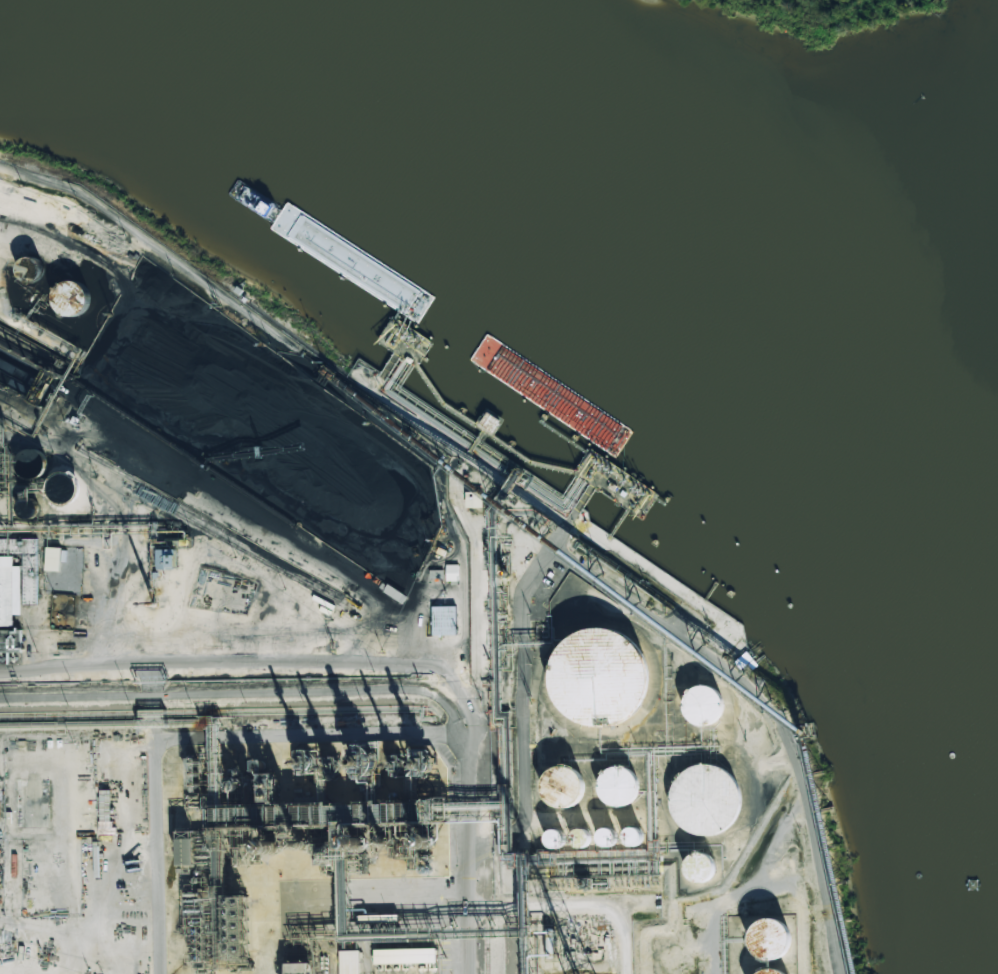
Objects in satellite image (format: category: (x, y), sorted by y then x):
river: (606, 174)
river: (800, 306)
road: (260, 328)
building: (474, 499)
building: (53, 559)
building: (168, 559)
building: (25, 565)
building: (452, 573)
building: (437, 574)
building: (9, 590)
building: (444, 621)
building: (9, 641)
road: (379, 662)
building: (599, 677)
building: (703, 705)
building: (618, 786)
building: (562, 787)
building: (705, 800)
building: (106, 813)
building: (634, 836)
building: (555, 839)
building: (187, 852)
railway: (487, 915)
building: (770, 938)
building: (405, 956)
building: (349, 962)
building: (299, 968)
building: (767, 971)

